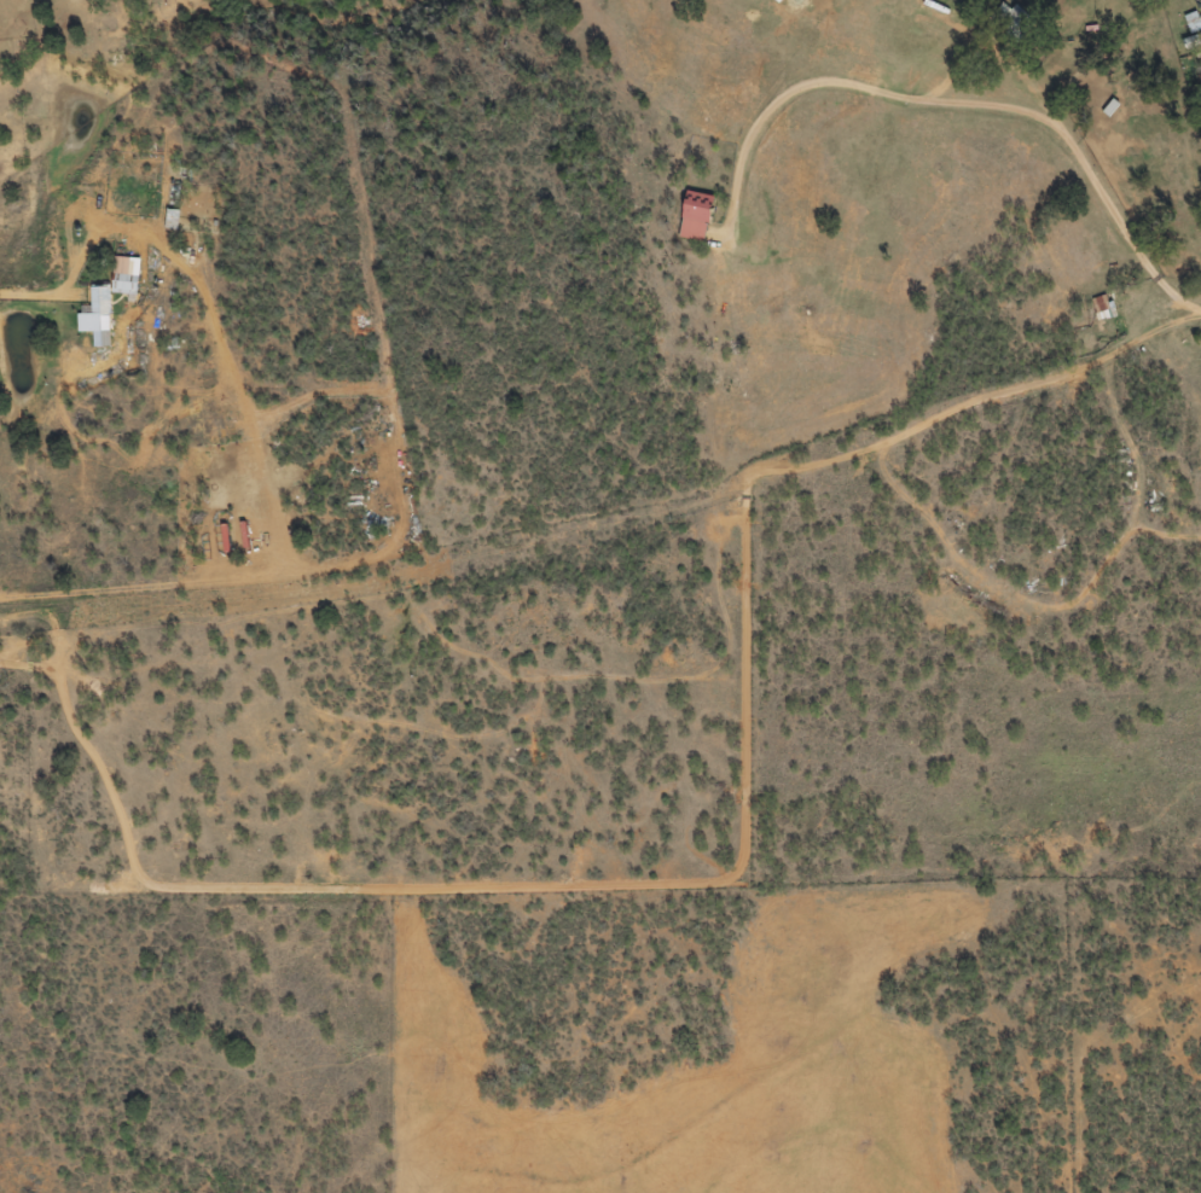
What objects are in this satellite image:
building: (781, 1)
building: (1013, 22)
building: (1194, 23)
road: (945, 115)
building: (697, 217)
building: (1104, 309)
building: (100, 327)

